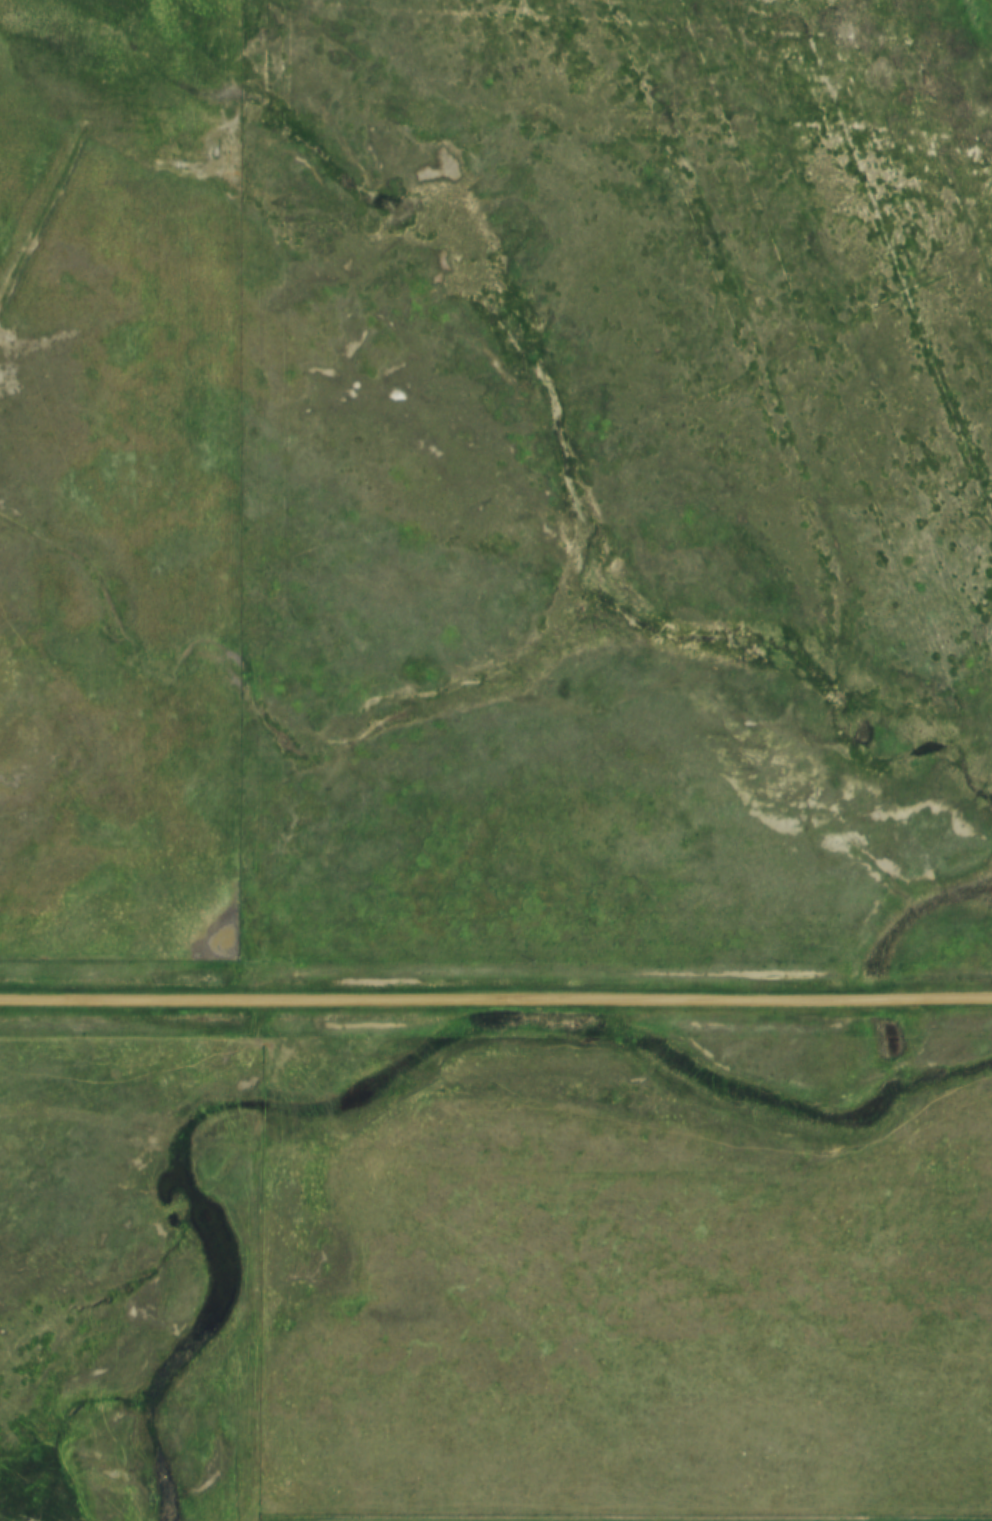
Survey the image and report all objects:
road: (496, 1002)

